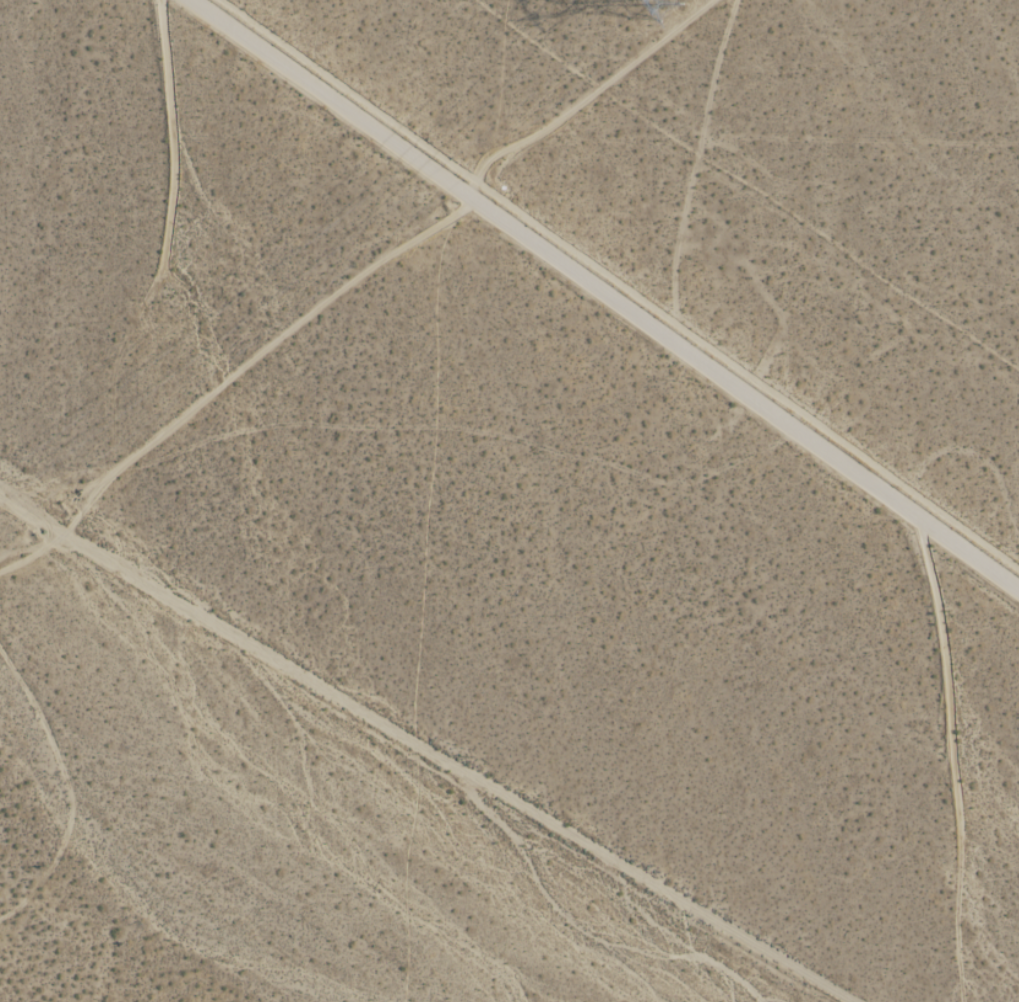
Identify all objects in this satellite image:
power tower: (670, 1)
road: (604, 292)
road: (425, 749)

